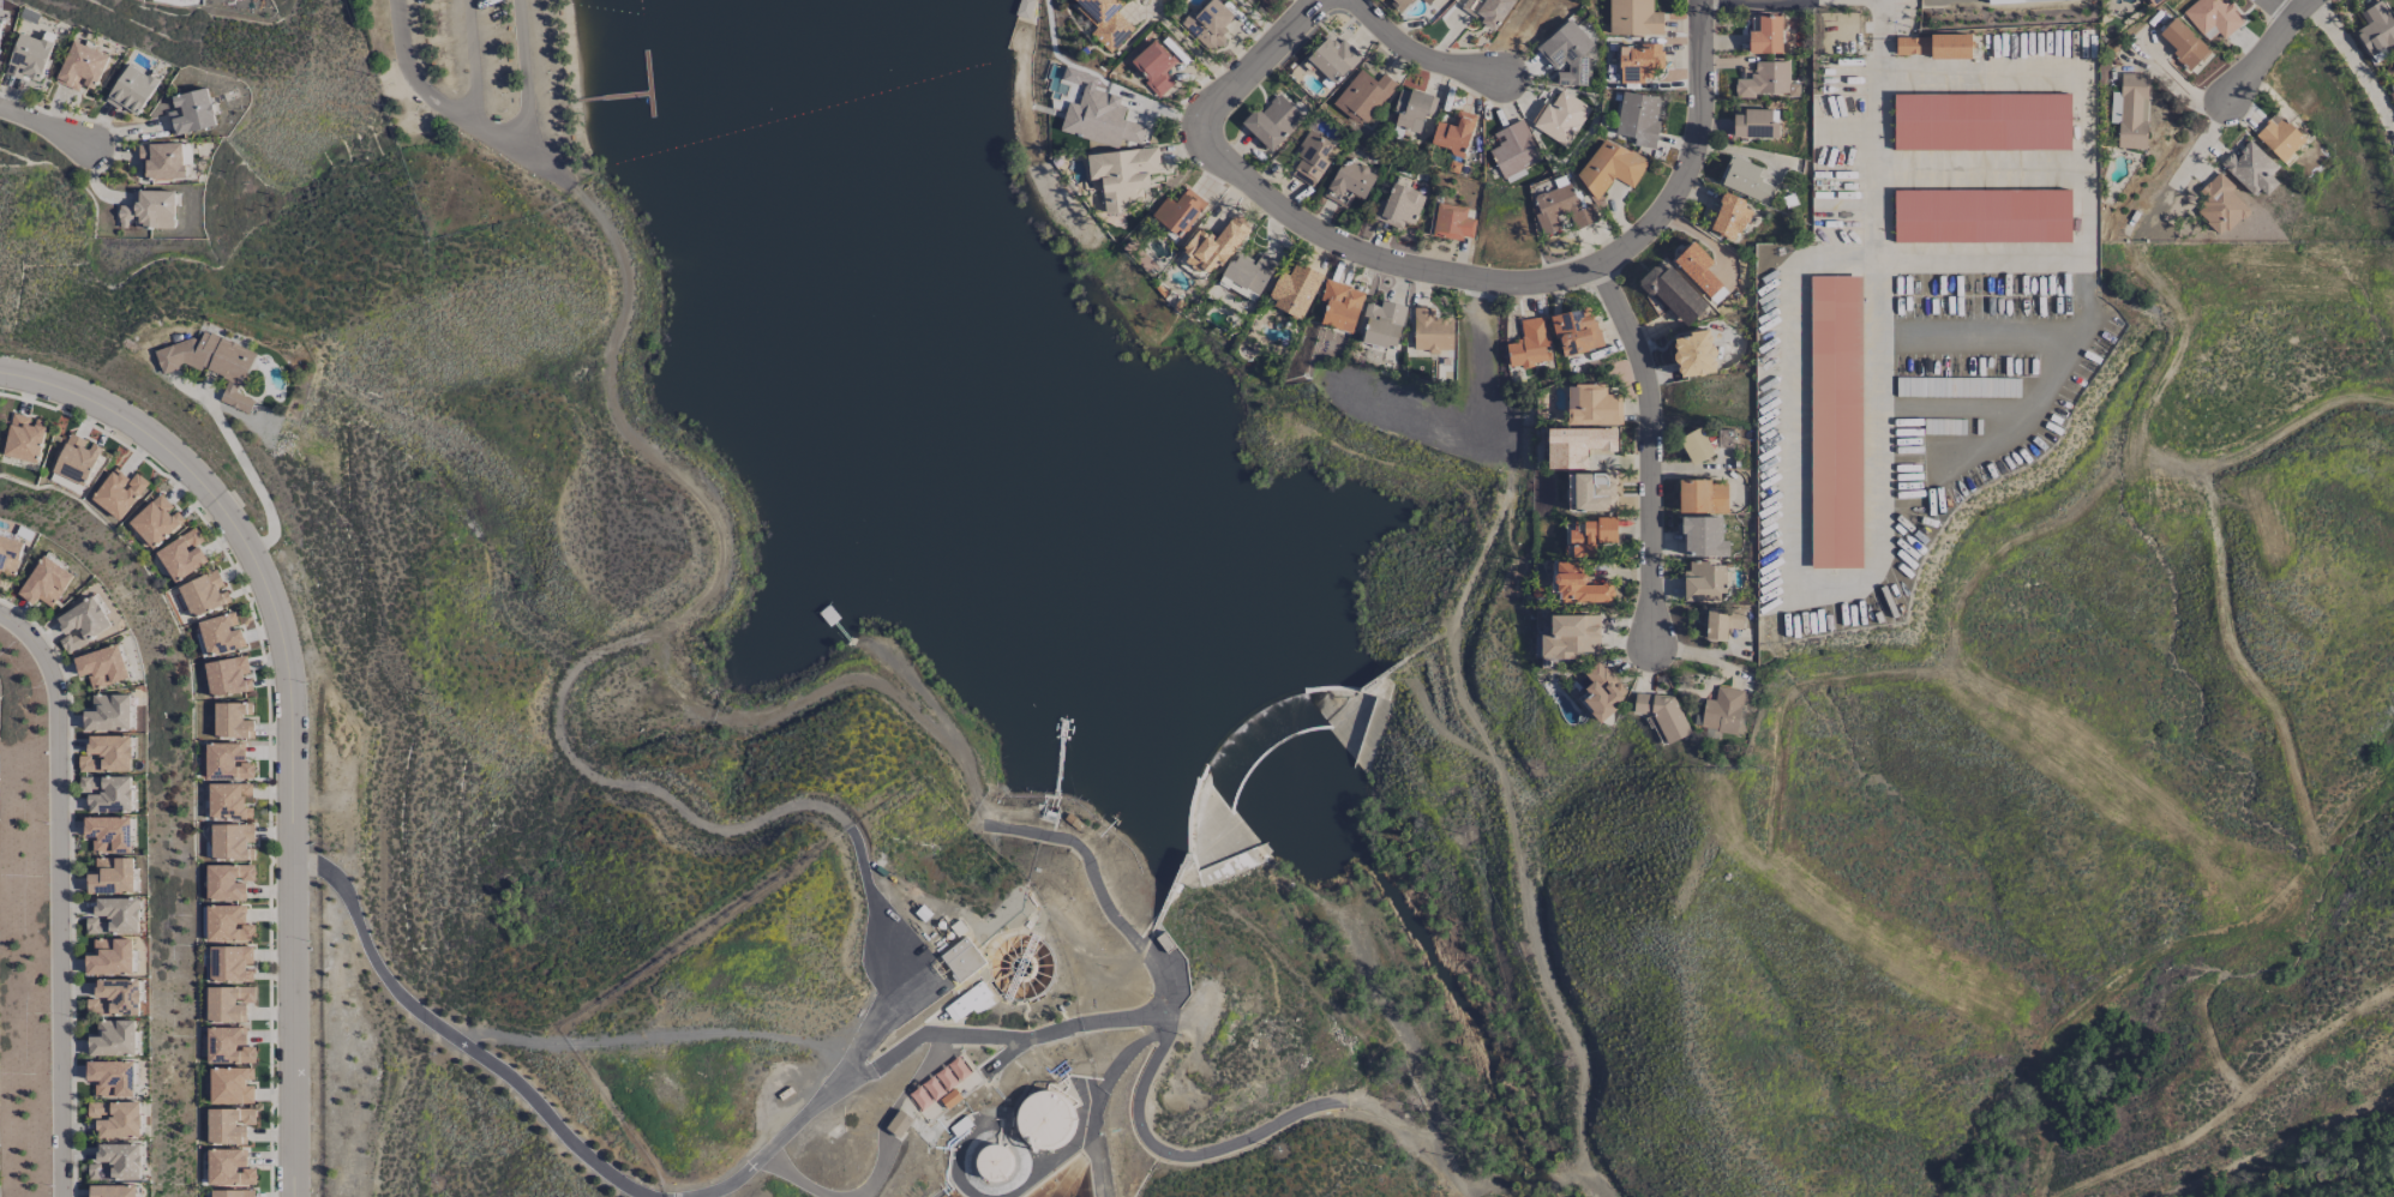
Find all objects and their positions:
building: (1426, 1)
building: (2018, 1)
building: (1400, 4)
road: (2285, 6)
building: (1487, 11)
road: (1878, 17)
building: (1633, 18)
building: (2212, 18)
building: (1104, 20)
building: (1208, 24)
building: (2376, 29)
building: (1765, 36)
building: (2182, 43)
road: (2268, 43)
building: (1932, 46)
road: (1193, 49)
building: (1567, 54)
building: (29, 56)
road: (1424, 58)
building: (1333, 59)
road: (1256, 60)
building: (1638, 62)
road: (2356, 62)
road: (476, 64)
building: (1153, 66)
building: (80, 67)
building: (1766, 80)
road: (539, 82)
building: (131, 90)
pier: (601, 96)
building: (1363, 96)
road: (440, 104)
building: (1411, 109)
building: (2129, 110)
building: (191, 112)
building: (1559, 118)
building: (1099, 119)
building: (1638, 119)
building: (1272, 121)
building: (1980, 121)
building: (1754, 124)
road: (46, 128)
building: (1452, 133)
building: (2279, 138)
building: (1513, 149)
building: (1312, 160)
building: (1609, 167)
building: (2250, 169)
road: (559, 173)
building: (1122, 175)
building: (1745, 180)
building: (1349, 182)
building: (2219, 205)
building: (1399, 206)
road: (592, 207)
building: (1561, 209)
building: (148, 210)
building: (1178, 212)
building: (1981, 216)
building: (1729, 217)
building: (1452, 222)
building: (1212, 247)
road: (2069, 255)
building: (1697, 269)
road: (1530, 275)
building: (1247, 276)
building: (1295, 289)
building: (1673, 294)
building: (1339, 306)
building: (1381, 324)
building: (1835, 325)
building: (1430, 331)
building: (1576, 331)
road: (1976, 341)
building: (1529, 343)
building: (1693, 354)
building: (211, 363)
road: (2046, 387)
building: (1591, 405)
road: (1956, 408)
building: (24, 438)
building: (1577, 446)
road: (1654, 446)
building: (1694, 446)
building: (76, 459)
road: (251, 475)
road: (686, 480)
building: (1591, 492)
building: (118, 493)
building: (1702, 497)
building: (155, 521)
building: (1590, 535)
building: (1703, 537)
building: (10, 554)
building: (181, 555)
road: (1790, 581)
building: (1704, 582)
building: (46, 583)
building: (1577, 585)
building: (203, 594)
building: (1721, 621)
building: (82, 624)
building: (220, 634)
building: (1570, 636)
building: (101, 667)
building: (227, 676)
road: (862, 678)
building: (1602, 691)
building: (1722, 710)
road: (290, 711)
building: (108, 712)
building: (1664, 714)
road: (732, 720)
building: (232, 721)
building: (107, 754)
building: (227, 762)
road: (968, 776)
dam: (1216, 782)
road: (616, 787)
building: (108, 793)
building: (228, 801)
road: (984, 812)
building: (108, 834)
building: (232, 842)
road: (853, 842)
building: (110, 877)
building: (227, 882)
road: (1099, 892)
road: (59, 895)
building: (114, 916)
building: (227, 924)
river: (1421, 943)
building: (109, 957)
building: (961, 960)
building: (230, 963)
building: (114, 998)
building: (227, 1003)
building: (968, 1003)
road: (1147, 1016)
road: (1085, 1024)
wastewater plant: (860, 1030)
road: (722, 1034)
road: (944, 1036)
building: (113, 1039)
road: (482, 1039)
road: (451, 1040)
road: (556, 1045)
building: (228, 1046)
road: (851, 1059)
building: (110, 1078)
building: (938, 1083)
building: (230, 1085)
building: (949, 1097)
road: (1097, 1099)
road: (1366, 1111)
building: (115, 1119)
building: (1044, 1121)
building: (898, 1124)
building: (228, 1125)
road: (1428, 1153)
road: (1181, 1155)
building: (115, 1162)
building: (992, 1162)
building: (228, 1167)
road: (792, 1178)
road: (1478, 1178)
building: (112, 1191)
building: (232, 1193)
road: (646, 1196)

